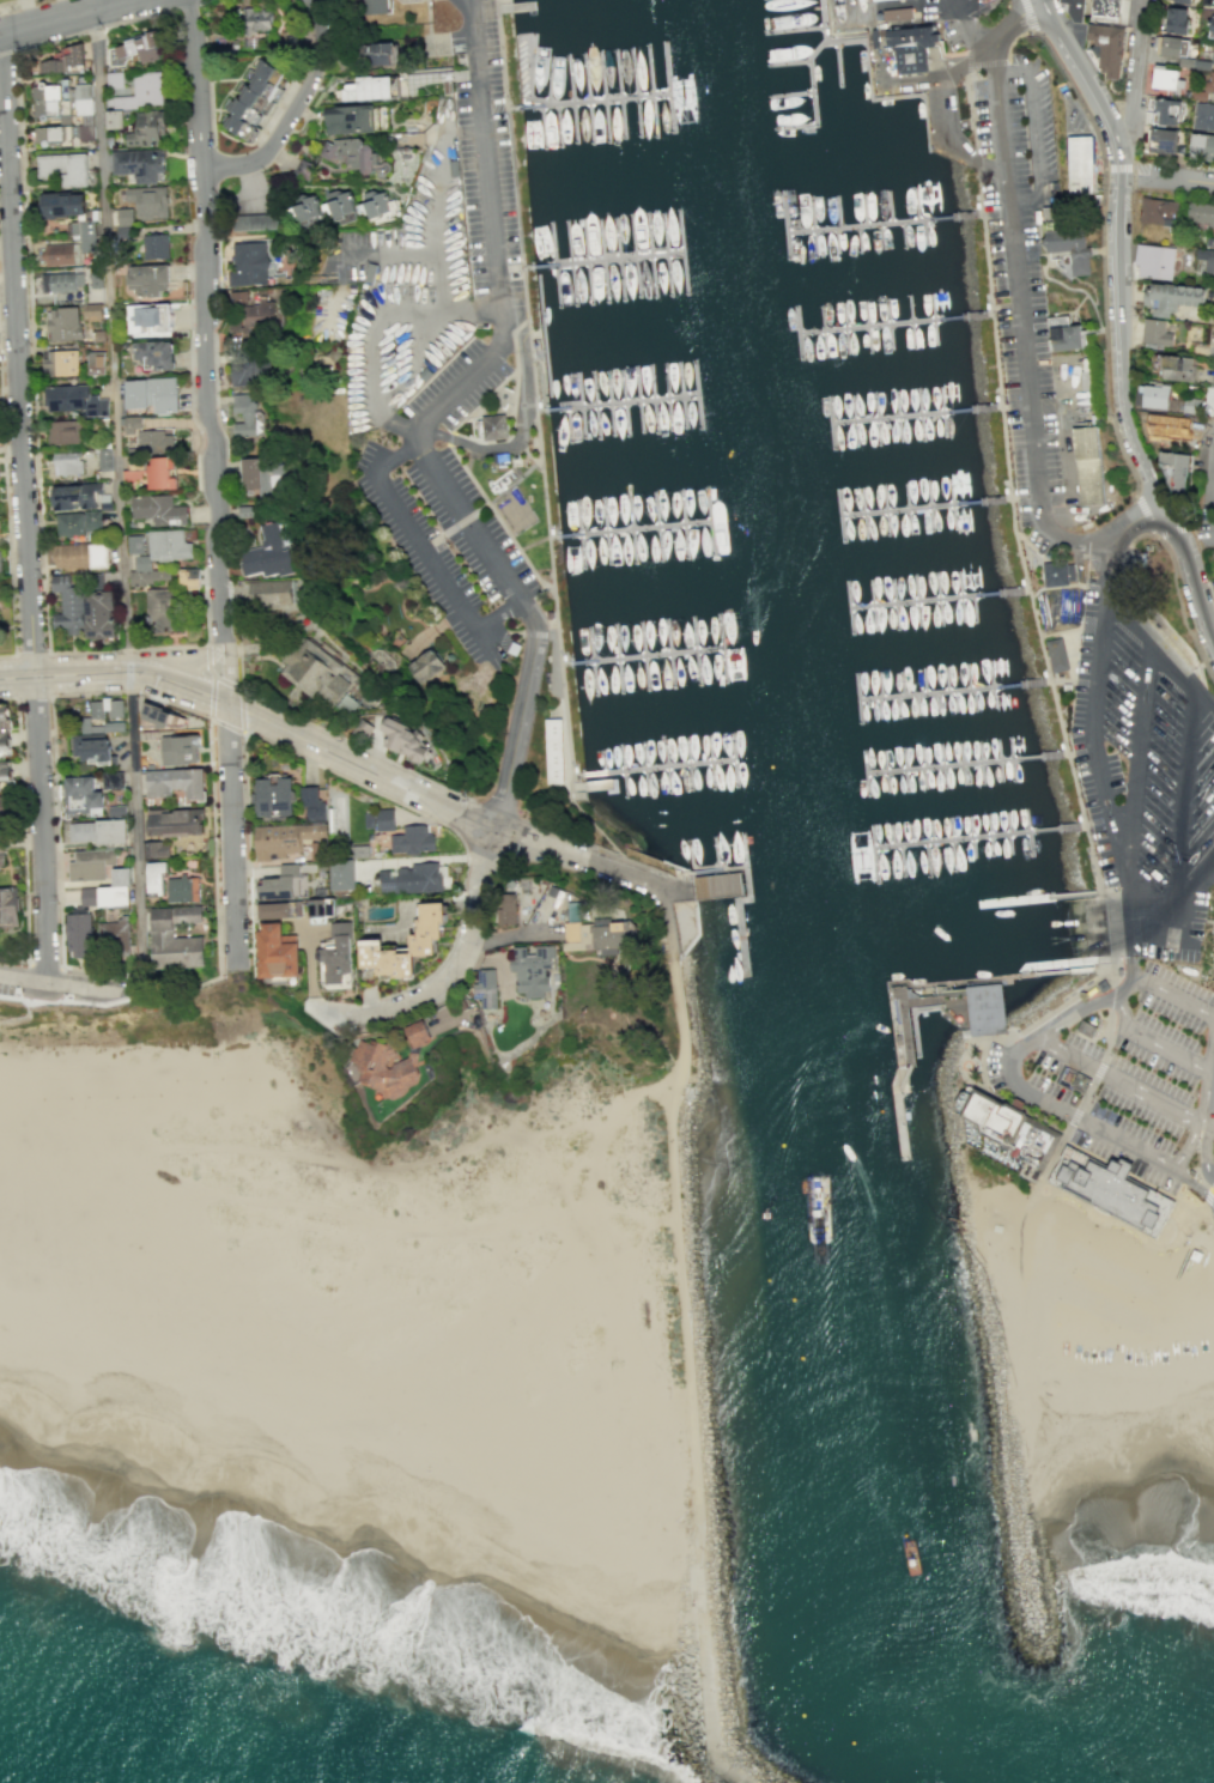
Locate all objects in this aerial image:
building: (874, 0)
road: (5, 1)
building: (891, 1)
road: (1042, 1)
building: (1180, 1)
building: (1213, 2)
building: (371, 7)
pier: (522, 8)
building: (1073, 10)
building: (1109, 10)
building: (897, 13)
road: (63, 16)
road: (1027, 16)
road: (1013, 19)
building: (1177, 20)
building: (255, 22)
building: (1210, 25)
road: (896, 26)
park: (427, 29)
building: (139, 46)
building: (1169, 46)
building: (1104, 49)
road: (8, 51)
building: (72, 51)
building: (913, 51)
building: (1213, 53)
building: (371, 55)
road: (967, 59)
road: (942, 60)
road: (987, 62)
road: (1010, 71)
building: (263, 73)
road: (1135, 75)
building: (1166, 77)
building: (115, 78)
pier: (809, 78)
building: (1210, 79)
building: (257, 87)
building: (141, 89)
building: (369, 89)
building: (83, 97)
building: (45, 99)
building: (247, 99)
pier: (590, 102)
road: (292, 109)
road: (940, 110)
road: (969, 110)
building: (237, 111)
building: (1165, 111)
building: (1203, 116)
building: (114, 119)
building: (347, 121)
building: (146, 127)
building: (233, 127)
building: (85, 131)
building: (53, 134)
road: (1034, 134)
building: (109, 138)
building: (1163, 140)
building: (1201, 145)
building: (347, 154)
road: (976, 159)
building: (139, 163)
road: (1130, 166)
building: (63, 168)
road: (1111, 168)
building: (1084, 170)
building: (303, 171)
road: (1141, 171)
road: (223, 178)
road: (1178, 181)
road: (516, 198)
building: (148, 200)
road: (1024, 200)
building: (63, 204)
building: (339, 206)
building: (376, 206)
building: (1158, 211)
building: (309, 212)
building: (1200, 213)
building: (125, 214)
pier: (885, 222)
building: (251, 224)
building: (125, 230)
building: (87, 235)
road: (1100, 236)
building: (154, 245)
building: (1074, 248)
building: (57, 253)
building: (1207, 254)
pier: (605, 261)
building: (1154, 261)
building: (247, 267)
road: (28, 269)
building: (96, 275)
building: (147, 279)
building: (59, 281)
parking lot: (1025, 283)
road: (1015, 287)
building: (1170, 297)
road: (202, 303)
building: (92, 309)
road: (218, 309)
building: (256, 316)
building: (148, 319)
road: (1119, 320)
building: (65, 322)
pier: (899, 323)
building: (1155, 332)
building: (99, 334)
building: (1067, 334)
road: (110, 335)
road: (496, 350)
road: (205, 351)
building: (154, 354)
road: (528, 359)
building: (62, 362)
building: (96, 362)
building: (1172, 366)
road: (16, 372)
building: (249, 376)
building: (153, 394)
building: (67, 395)
parking lot: (462, 395)
building: (1153, 395)
road: (190, 399)
pier: (618, 402)
building: (101, 406)
road: (1016, 407)
pier: (916, 414)
building: (244, 419)
building: (133, 422)
building: (1170, 427)
building: (494, 429)
building: (67, 431)
road: (516, 437)
building: (154, 441)
building: (107, 457)
building: (68, 461)
building: (1091, 466)
building: (136, 468)
building: (1177, 472)
building: (164, 473)
building: (265, 477)
road: (540, 484)
road: (213, 489)
road: (503, 490)
road: (486, 491)
building: (75, 495)
building: (107, 504)
pier: (924, 505)
building: (160, 508)
road: (230, 509)
building: (248, 514)
road: (1143, 515)
road: (1212, 516)
road: (1131, 518)
road: (7, 521)
building: (79, 521)
road: (1200, 528)
road: (1171, 529)
pier: (633, 530)
road: (1212, 533)
building: (135, 542)
building: (169, 545)
road: (520, 551)
building: (71, 554)
building: (97, 554)
building: (268, 558)
road: (430, 559)
building: (0, 560)
building: (142, 562)
building: (1057, 572)
building: (148, 575)
building: (190, 577)
building: (97, 580)
road: (552, 586)
road: (1174, 594)
building: (271, 595)
pier: (936, 599)
building: (67, 606)
building: (164, 607)
building: (98, 615)
road: (1125, 623)
road: (164, 647)
building: (1056, 654)
pier: (642, 656)
road: (206, 657)
road: (202, 659)
road: (1048, 663)
building: (424, 666)
road: (1171, 666)
building: (316, 674)
road: (560, 679)
pier: (958, 690)
road: (7, 697)
road: (16, 697)
road: (1203, 699)
building: (348, 704)
building: (108, 708)
building: (160, 715)
road: (256, 716)
building: (5, 718)
road: (1088, 722)
building: (85, 723)
road: (221, 724)
building: (109, 726)
building: (362, 732)
road: (517, 734)
building: (401, 744)
building: (6, 745)
road: (354, 745)
building: (180, 748)
road: (51, 750)
building: (93, 750)
building: (551, 751)
pier: (969, 764)
pier: (669, 768)
road: (1139, 770)
road: (583, 774)
building: (6, 775)
building: (114, 781)
building: (176, 783)
parking lot: (1146, 784)
road: (567, 789)
building: (275, 795)
building: (83, 796)
building: (312, 802)
road: (1179, 802)
building: (5, 809)
building: (116, 809)
road: (496, 811)
building: (369, 819)
building: (384, 819)
building: (176, 820)
road: (442, 824)
road: (41, 825)
road: (23, 830)
building: (99, 831)
road: (596, 831)
road: (235, 832)
road: (136, 835)
pier: (985, 836)
building: (412, 839)
road: (573, 839)
building: (291, 841)
building: (2, 842)
road: (216, 847)
building: (157, 850)
road: (249, 854)
building: (2, 859)
building: (91, 863)
road: (602, 868)
road: (650, 871)
building: (342, 874)
building: (122, 877)
building: (159, 878)
building: (412, 878)
road: (676, 881)
building: (285, 885)
road: (1190, 885)
building: (187, 890)
building: (90, 896)
building: (115, 896)
pier: (745, 898)
pier: (1043, 898)
building: (10, 906)
building: (504, 906)
road: (1133, 908)
building: (322, 909)
building: (277, 910)
road: (1151, 917)
road: (1189, 918)
road: (1104, 927)
building: (593, 933)
building: (83, 934)
building: (116, 935)
building: (177, 938)
building: (423, 939)
building: (281, 953)
building: (336, 958)
road: (14, 960)
parking lot: (1213, 964)
road: (45, 965)
road: (310, 966)
building: (530, 966)
road: (109, 972)
road: (451, 975)
road: (200, 981)
road: (59, 984)
road: (911, 985)
building: (484, 987)
road: (1163, 989)
parking lot: (10, 994)
road: (900, 996)
road: (84, 1000)
park: (176, 1006)
road: (372, 1007)
building: (984, 1007)
building: (1084, 1027)
road: (905, 1032)
road: (967, 1041)
road: (1154, 1042)
building: (369, 1059)
road: (1213, 1062)
parking lot: (1124, 1071)
park: (236, 1075)
road: (1118, 1079)
building: (1079, 1081)
park: (190, 1084)
road: (663, 1086)
park: (130, 1091)
road: (1027, 1092)
road: (1086, 1092)
park: (73, 1093)
road: (1210, 1117)
road: (1196, 1121)
building: (1010, 1127)
road: (1207, 1158)
toll booth: (1188, 1179)
road: (1194, 1185)
building: (1115, 1190)
road: (1208, 1194)
road: (1206, 1209)
road: (1212, 1230)
park: (1080, 1256)
park: (1097, 1282)
park: (1068, 1285)
park: (1139, 1285)
park: (1127, 1312)
building: (1210, 1353)
road: (688, 1365)

